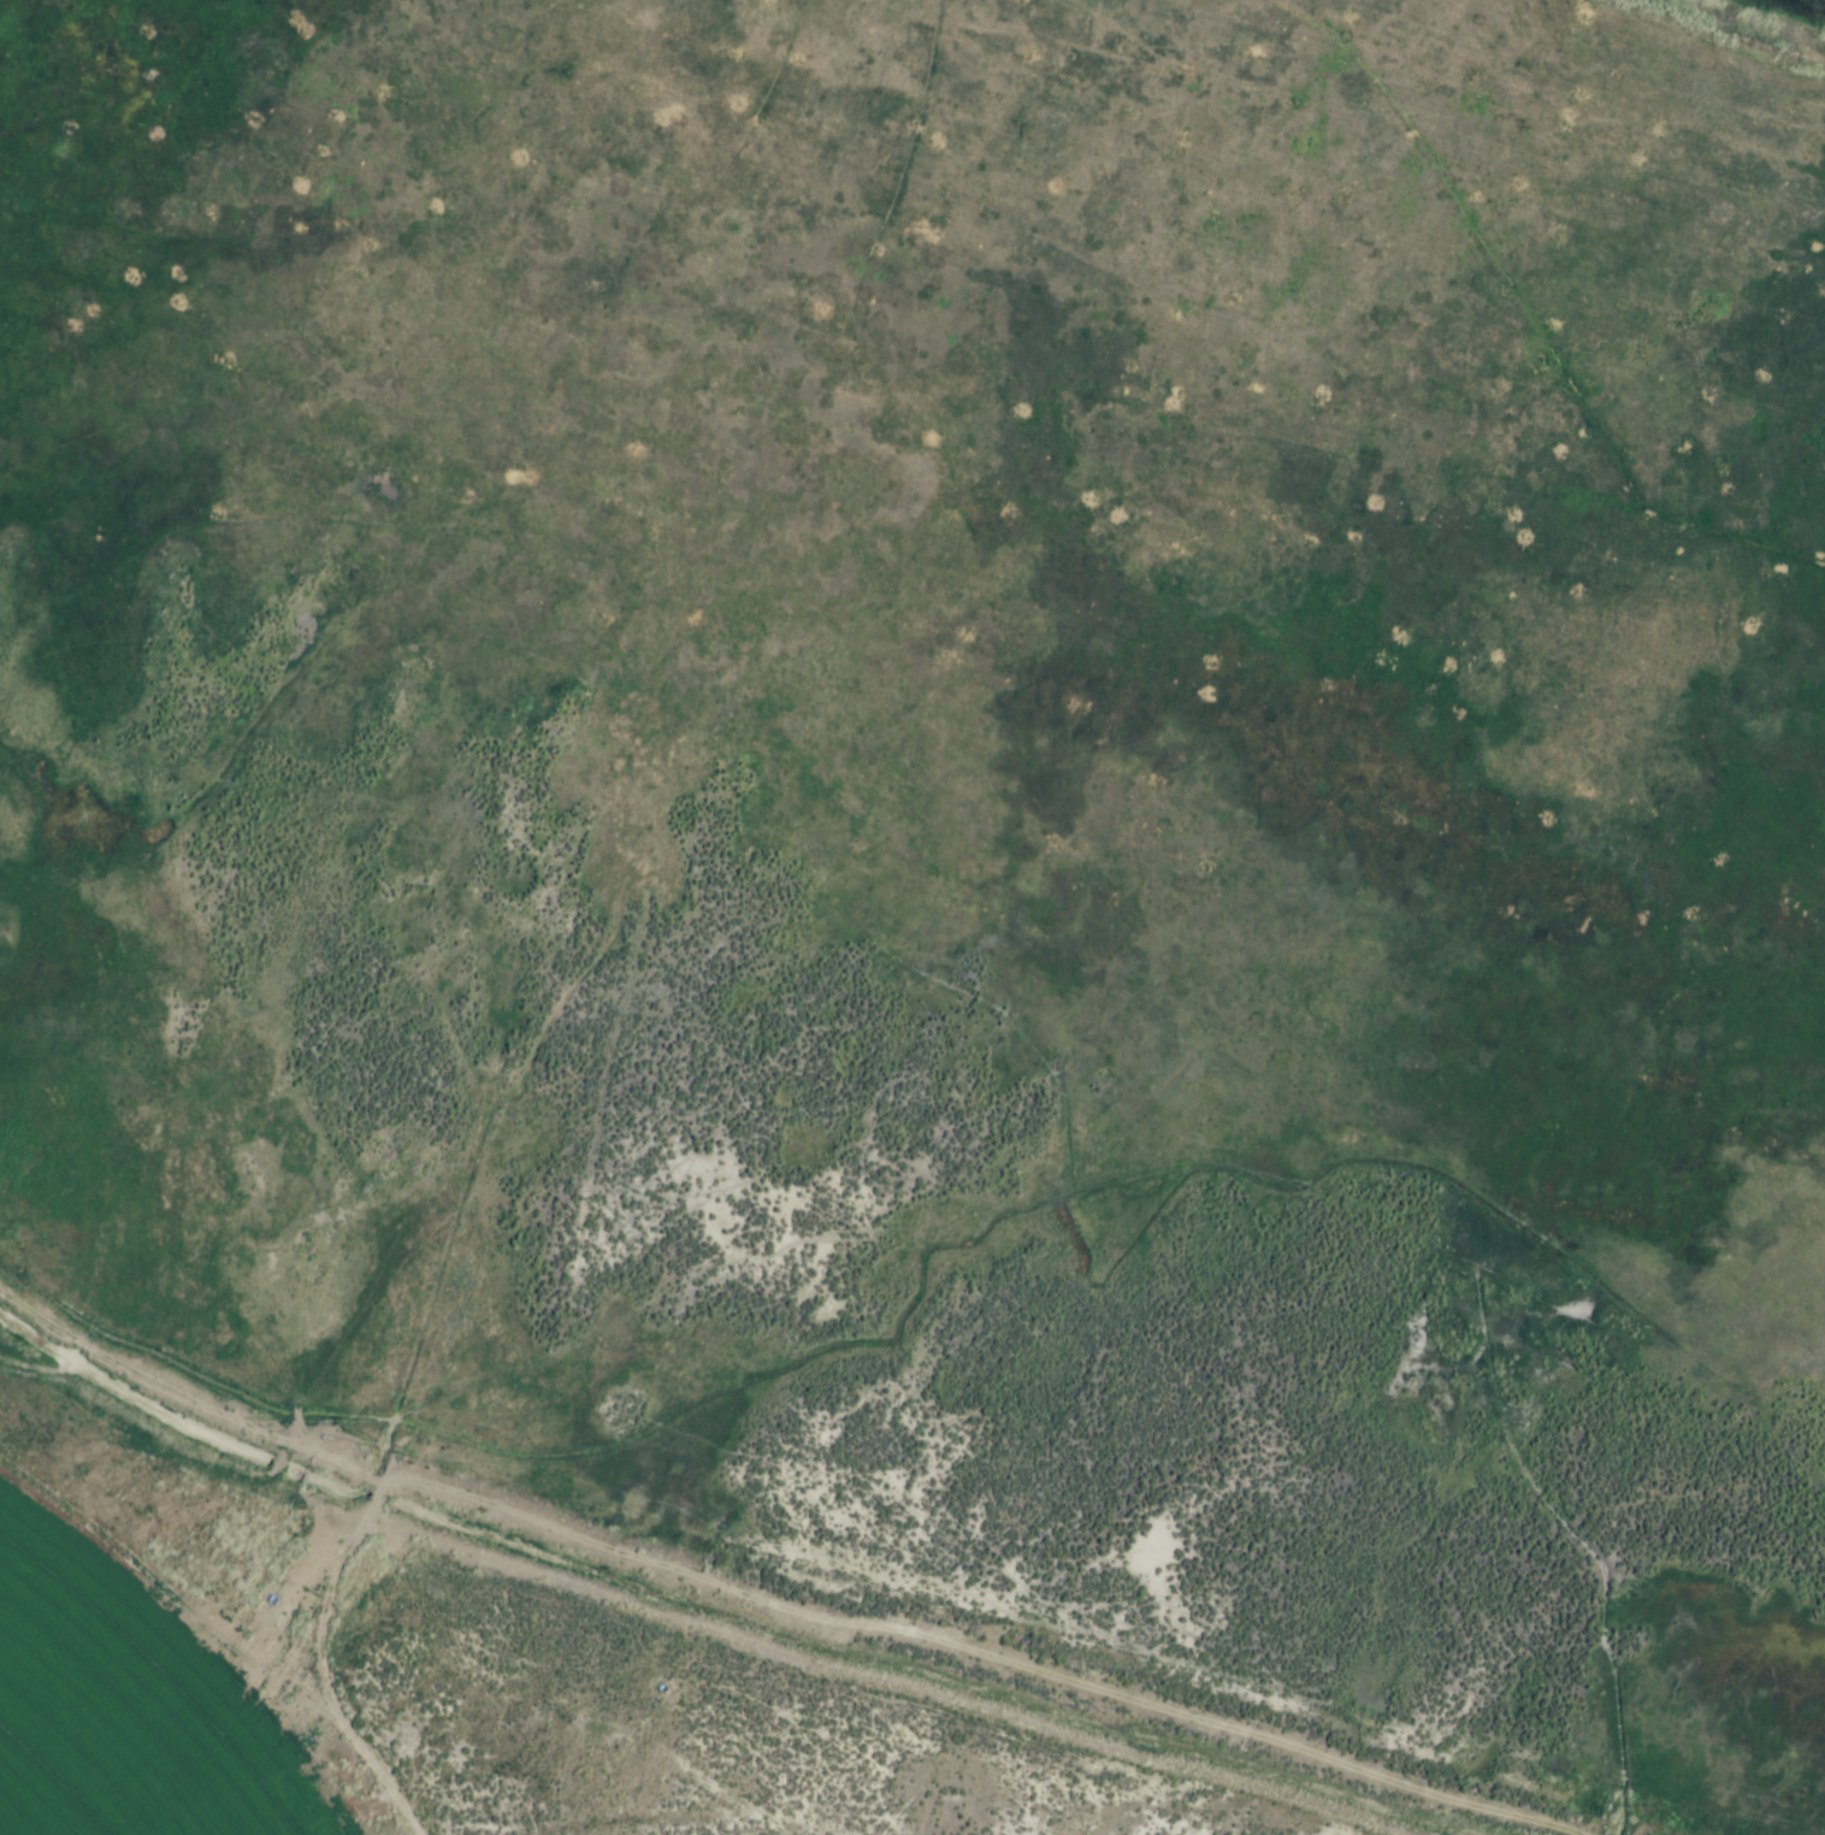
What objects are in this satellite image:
crop: (113, 1715)

